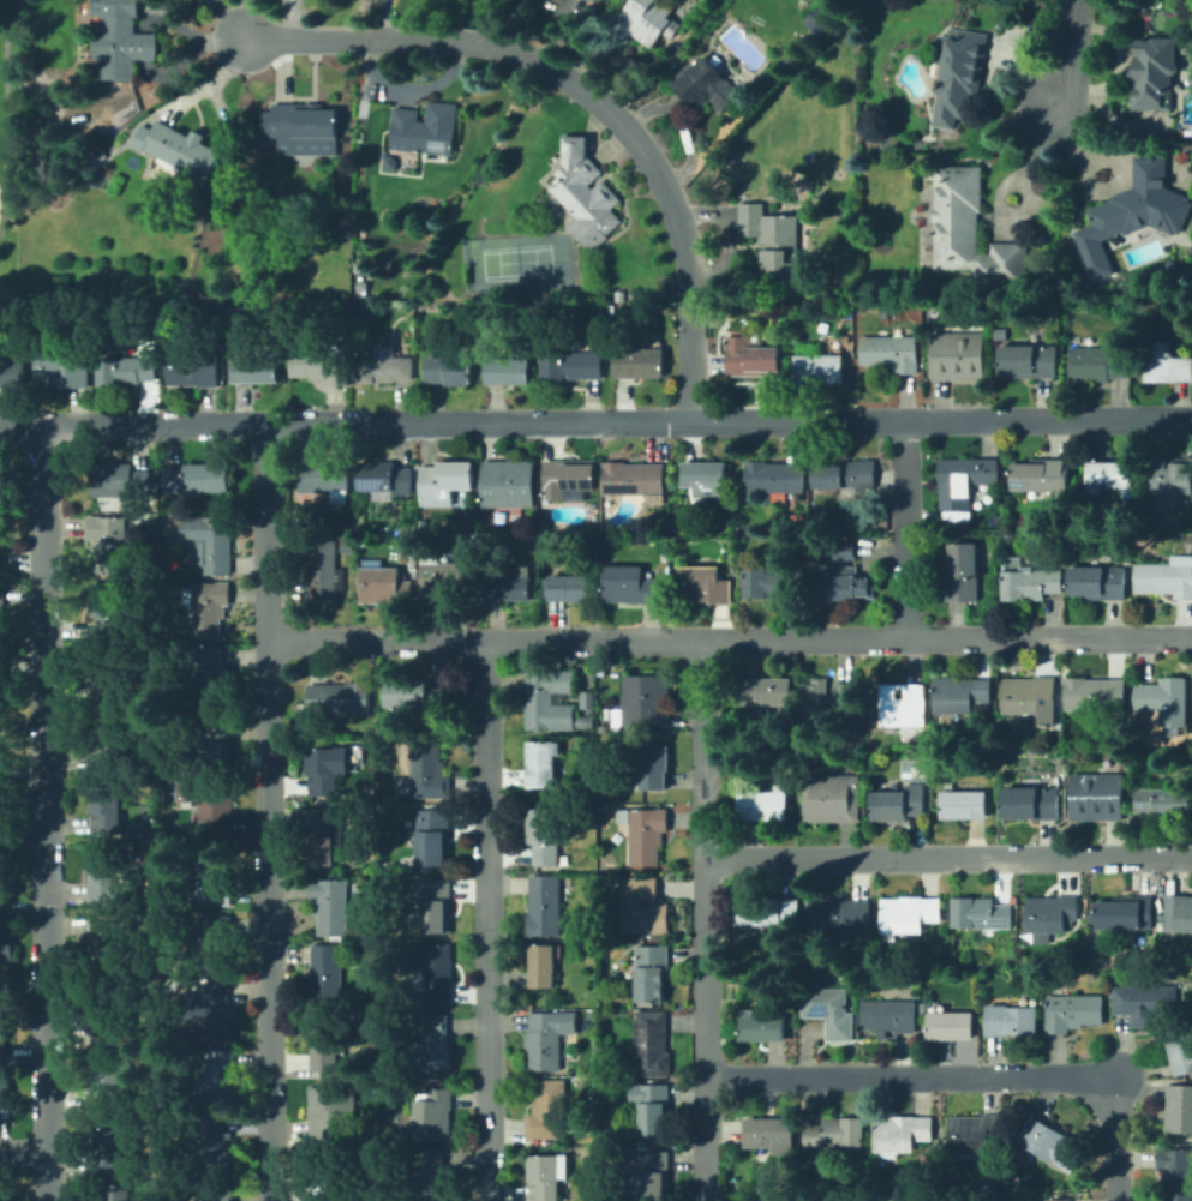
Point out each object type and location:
road: (245, 19)
building: (643, 20)
building: (814, 20)
building: (122, 38)
road: (1072, 55)
building: (954, 72)
building: (1150, 72)
building: (712, 88)
road: (587, 97)
road: (6, 113)
building: (300, 124)
building: (427, 130)
road: (1034, 145)
building: (179, 150)
park: (10, 155)
building: (389, 164)
road: (1000, 186)
building: (587, 194)
building: (1127, 211)
building: (968, 228)
building: (772, 240)
park: (515, 260)
building: (1174, 271)
building: (1002, 335)
building: (891, 353)
building: (958, 354)
building: (751, 358)
building: (252, 361)
building: (1029, 361)
building: (640, 362)
building: (1098, 362)
building: (1167, 362)
building: (322, 364)
building: (571, 366)
building: (131, 367)
building: (194, 367)
building: (381, 367)
building: (821, 367)
building: (62, 368)
building: (450, 370)
building: (510, 371)
building: (12, 372)
road: (595, 420)
building: (847, 474)
building: (1109, 475)
building: (1174, 475)
building: (328, 476)
building: (388, 476)
building: (1042, 476)
building: (775, 478)
building: (200, 479)
building: (639, 479)
building: (709, 479)
building: (2, 480)
building: (121, 480)
building: (570, 480)
building: (448, 481)
building: (966, 481)
building: (511, 482)
road: (908, 529)
building: (211, 542)
building: (110, 544)
building: (0, 547)
building: (846, 548)
building: (327, 571)
building: (965, 571)
building: (1164, 578)
building: (439, 581)
building: (844, 581)
building: (1034, 582)
building: (769, 583)
building: (1100, 583)
building: (634, 584)
building: (706, 584)
building: (383, 586)
building: (513, 586)
building: (573, 588)
building: (110, 603)
building: (209, 608)
building: (2, 617)
road: (730, 641)
building: (118, 675)
building: (214, 677)
building: (1, 683)
building: (765, 691)
building: (418, 695)
building: (965, 695)
building: (1097, 697)
building: (341, 698)
building: (826, 698)
building: (1034, 699)
building: (551, 701)
building: (648, 701)
building: (1168, 701)
building: (310, 702)
building: (906, 705)
building: (112, 744)
building: (216, 746)
building: (545, 763)
building: (655, 765)
building: (5, 768)
building: (324, 770)
building: (431, 770)
building: (1096, 795)
building: (827, 798)
building: (1163, 801)
building: (1030, 803)
building: (899, 804)
building: (2, 805)
building: (965, 805)
building: (214, 806)
building: (767, 806)
building: (108, 810)
road: (268, 810)
road: (43, 811)
building: (327, 834)
building: (647, 834)
building: (546, 835)
building: (436, 836)
road: (948, 857)
building: (109, 878)
building: (214, 878)
building: (431, 903)
building: (331, 906)
building: (546, 906)
building: (645, 907)
building: (0, 909)
building: (773, 912)
building: (1128, 913)
building: (1179, 913)
building: (841, 914)
building: (910, 914)
building: (981, 914)
building: (1052, 914)
road: (485, 921)
road: (705, 921)
building: (109, 941)
building: (215, 942)
building: (7, 950)
building: (544, 966)
building: (430, 971)
building: (653, 972)
building: (328, 975)
building: (1143, 999)
building: (216, 1008)
building: (926, 1008)
building: (831, 1010)
building: (104, 1013)
building: (1074, 1013)
building: (889, 1016)
building: (373, 1019)
building: (1013, 1020)
building: (951, 1026)
building: (763, 1028)
building: (551, 1039)
building: (2, 1043)
building: (652, 1044)
building: (431, 1046)
building: (328, 1050)
building: (1181, 1050)
building: (110, 1076)
building: (217, 1076)
road: (906, 1076)
building: (5, 1089)
building: (652, 1106)
building: (1179, 1109)
building: (552, 1112)
building: (334, 1113)
building: (433, 1117)
building: (837, 1133)
building: (903, 1133)
building: (976, 1133)
building: (772, 1134)
building: (1050, 1142)
road: (1118, 1142)
building: (217, 1145)
building: (109, 1148)
road: (23, 1153)
building: (1178, 1173)
building: (436, 1175)
building: (549, 1175)
building: (653, 1175)
building: (324, 1181)
building: (118, 1193)
building: (222, 1193)
building: (6, 1196)
building: (761, 1200)
building: (1060, 1200)

